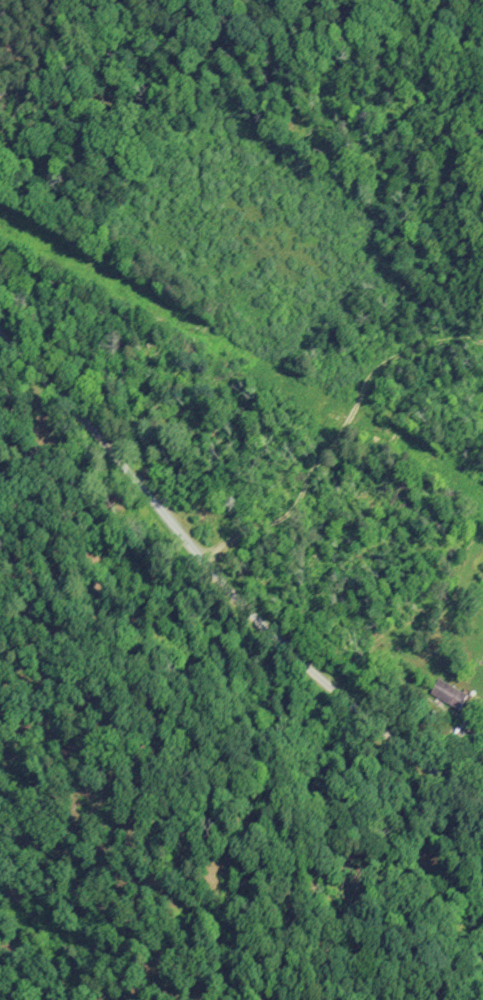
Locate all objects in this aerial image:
road: (224, 589)

